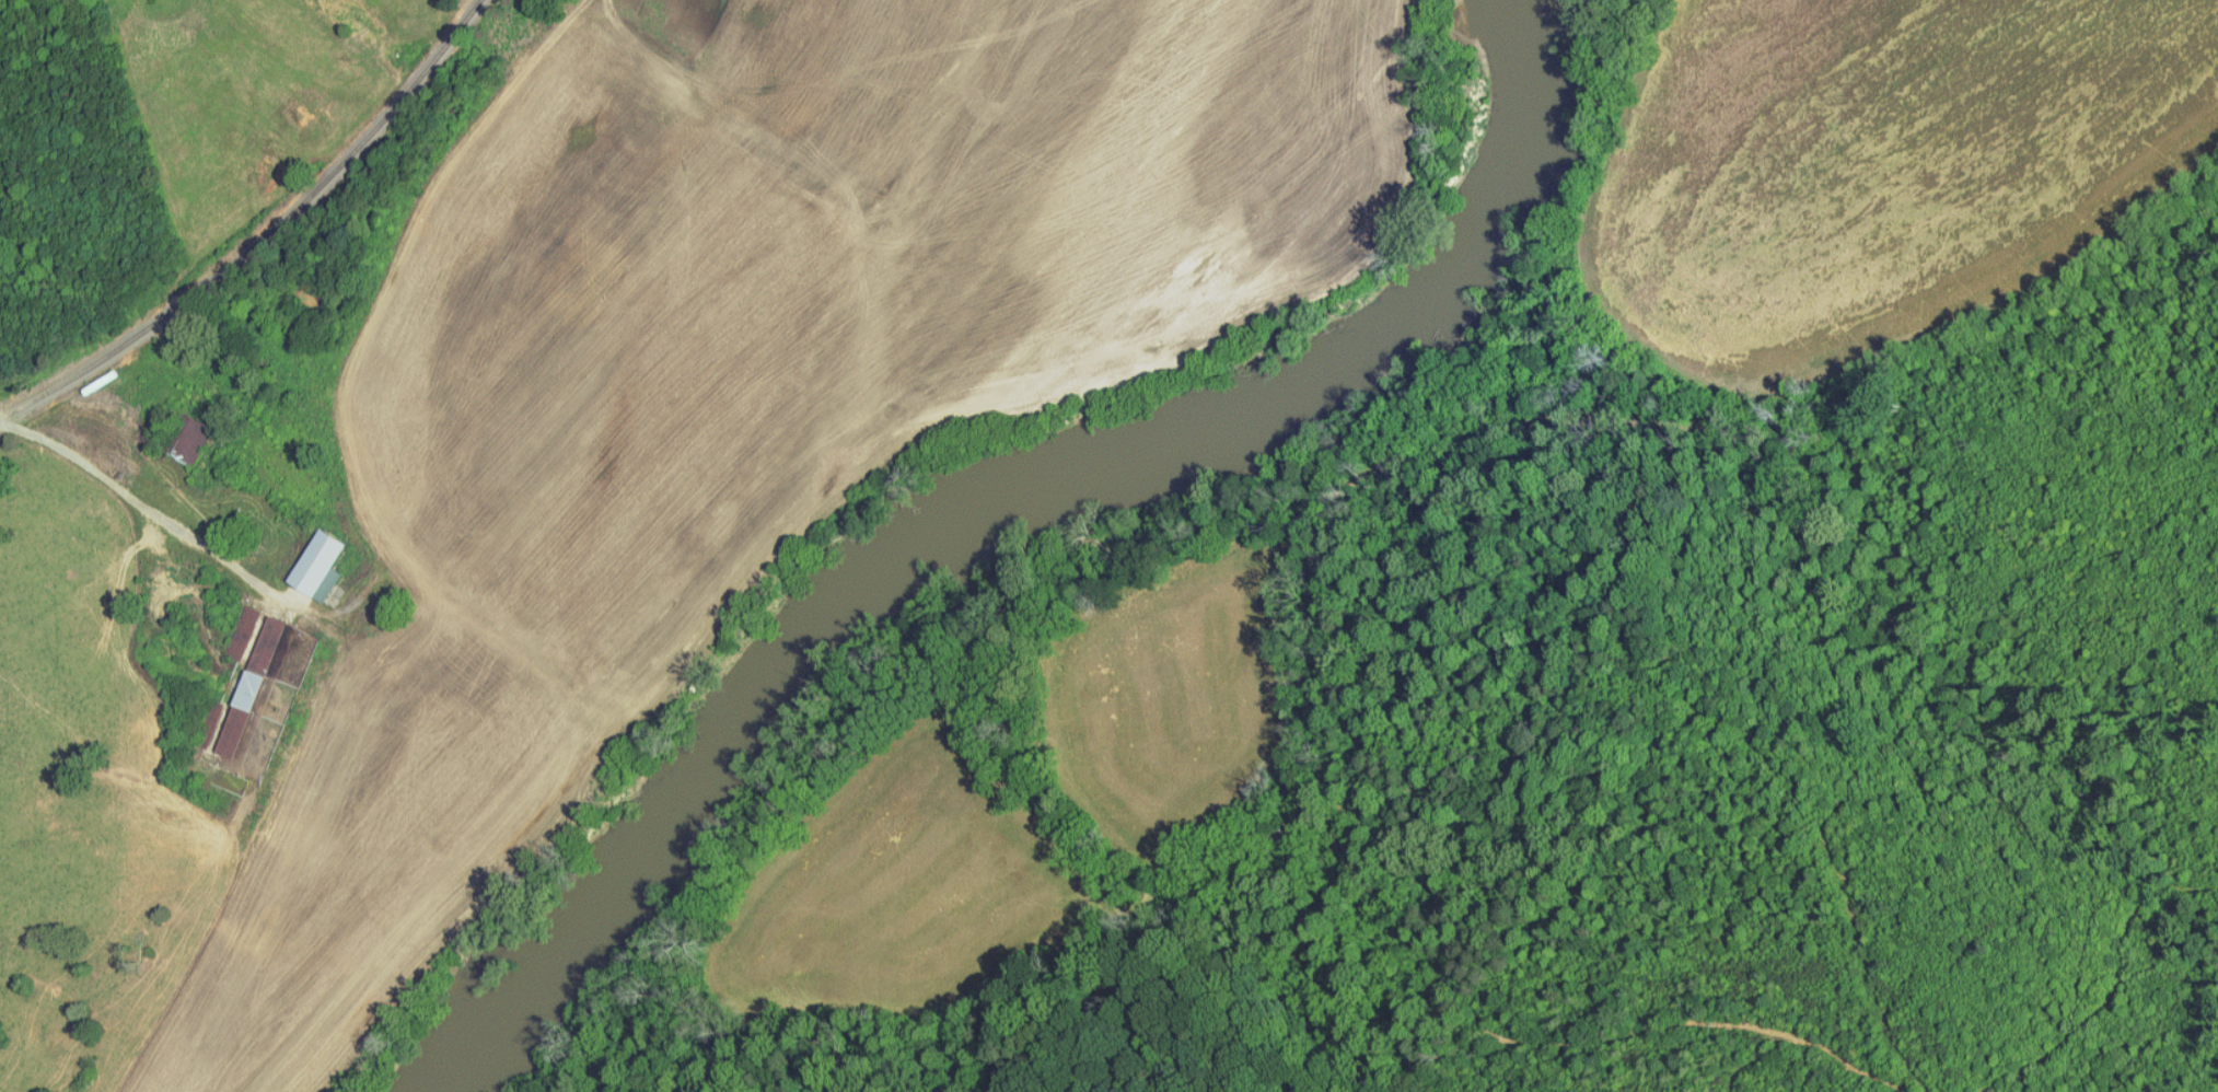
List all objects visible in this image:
railway: (269, 242)
building: (183, 434)
road: (138, 493)
river: (1012, 513)
building: (311, 559)
building: (231, 692)

